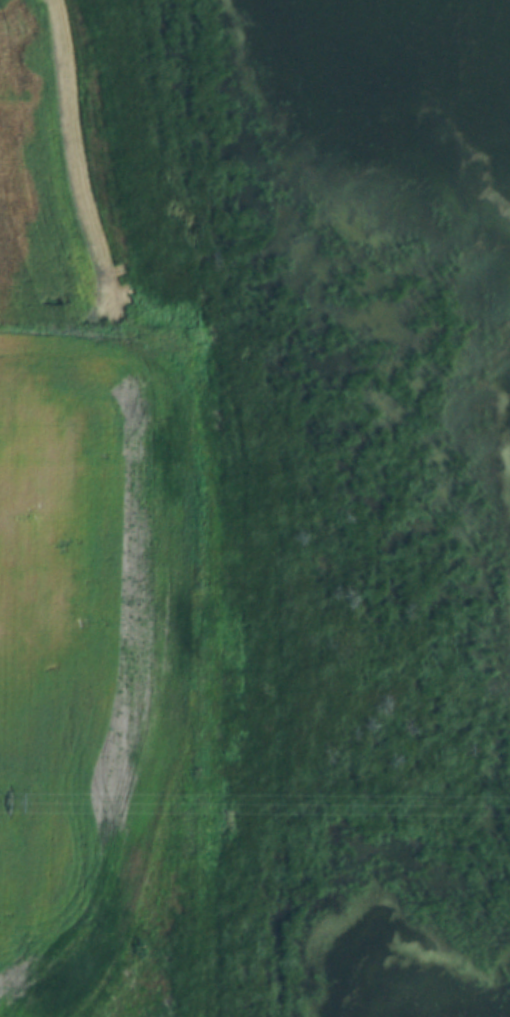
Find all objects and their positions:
power tower: (6, 800)

